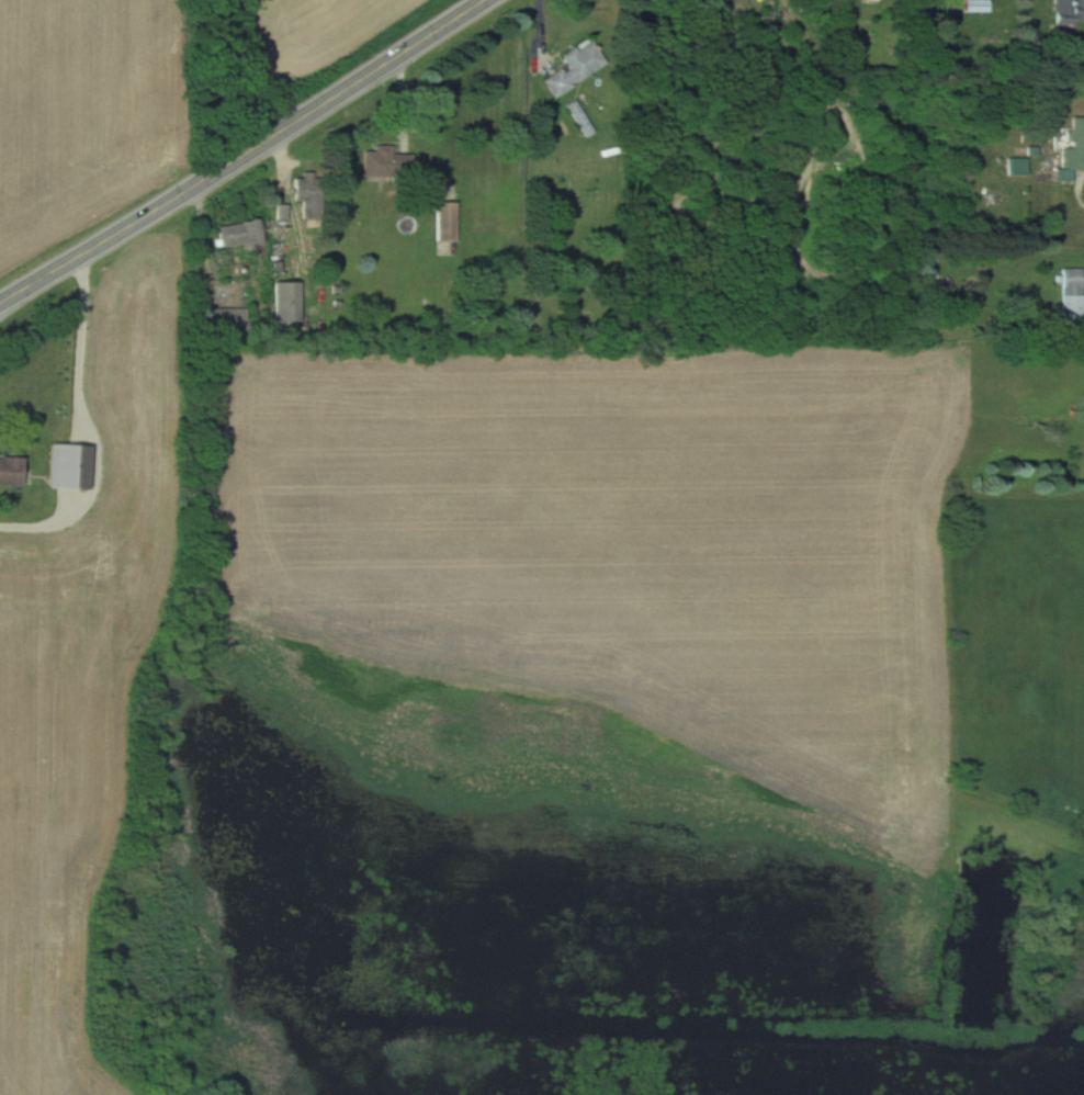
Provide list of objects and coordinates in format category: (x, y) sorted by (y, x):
building: (972, 5)
building: (1069, 19)
building: (576, 66)
building: (579, 116)
building: (1073, 148)
road: (242, 154)
building: (384, 162)
building: (444, 221)
building: (236, 233)
building: (1072, 294)
building: (285, 301)
building: (226, 317)
road: (91, 427)
building: (12, 471)

